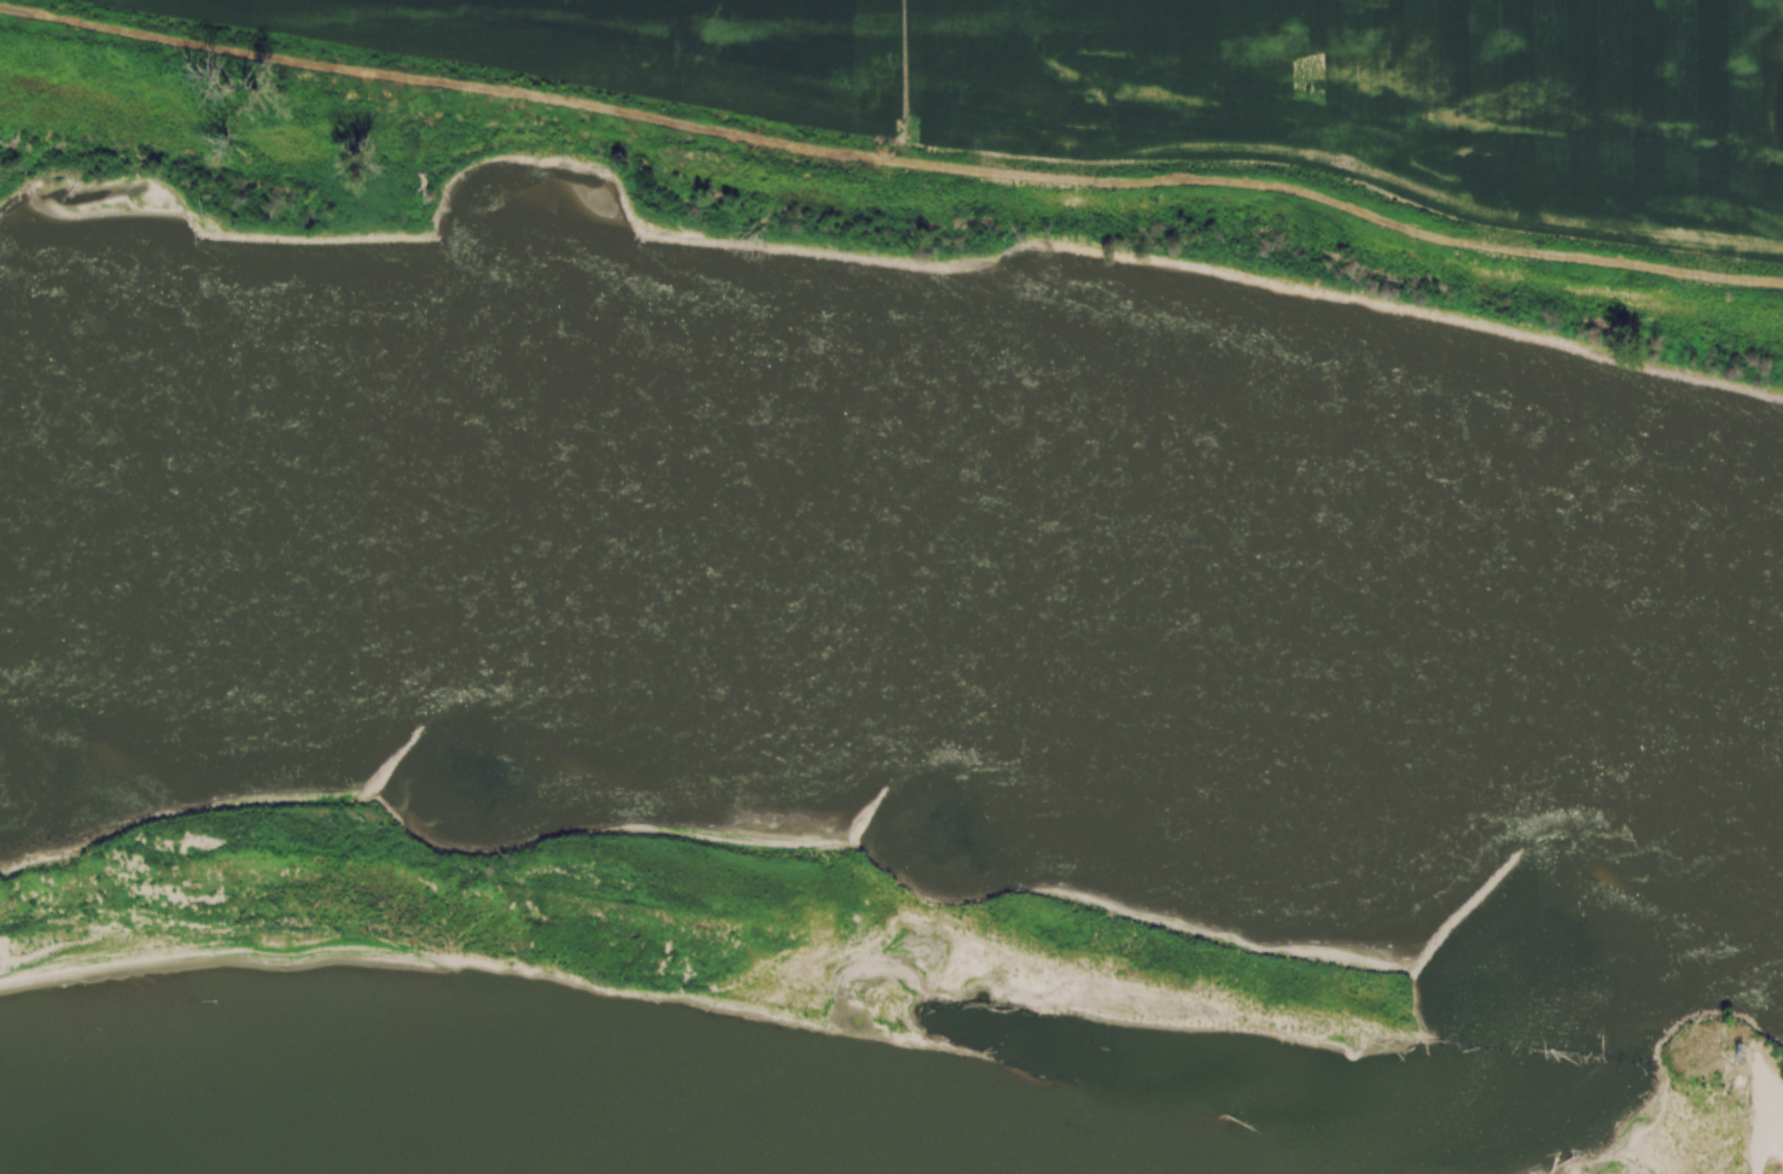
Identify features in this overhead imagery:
river: (896, 533)
road: (1759, 1090)
road: (1767, 1139)

